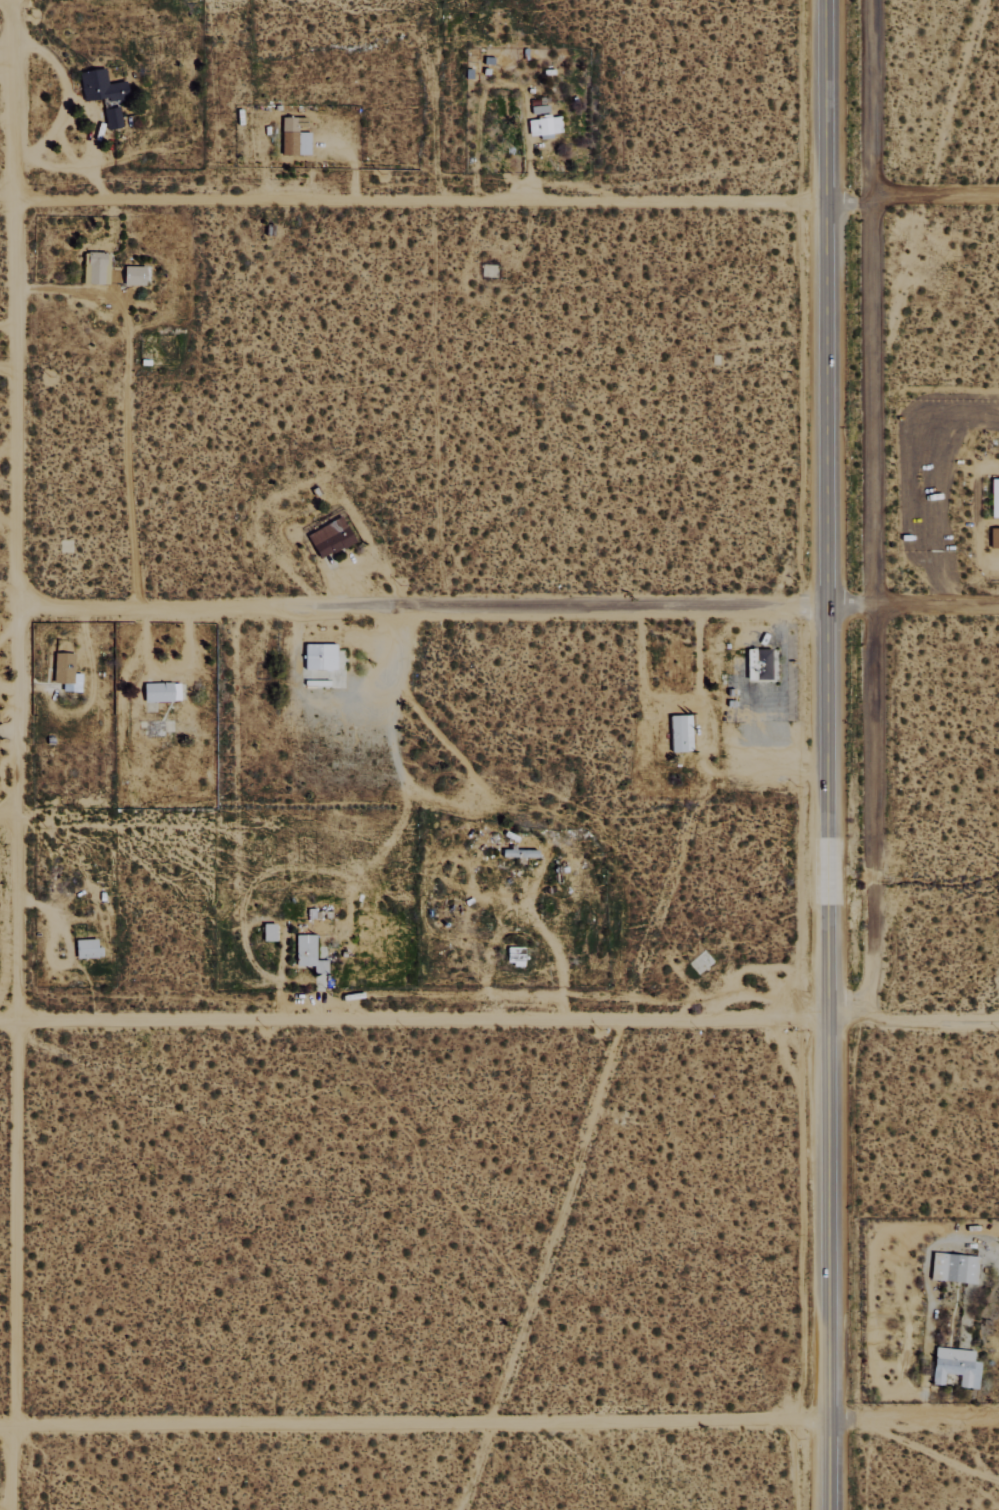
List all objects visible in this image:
road: (5, 70)
building: (112, 118)
building: (543, 126)
building: (293, 136)
road: (414, 204)
road: (908, 204)
building: (94, 267)
building: (132, 275)
building: (994, 497)
road: (877, 512)
building: (329, 537)
building: (994, 538)
road: (843, 606)
road: (929, 606)
road: (153, 607)
road: (557, 607)
building: (318, 656)
building: (757, 663)
building: (63, 668)
building: (160, 691)
building: (679, 733)
road: (15, 754)
road: (825, 754)
road: (7, 815)
building: (267, 932)
building: (86, 948)
building: (308, 953)
road: (844, 1023)
road: (412, 1025)
road: (931, 1026)
building: (953, 1268)
building: (954, 1367)
road: (915, 1420)
road: (415, 1422)
road: (5, 1506)

